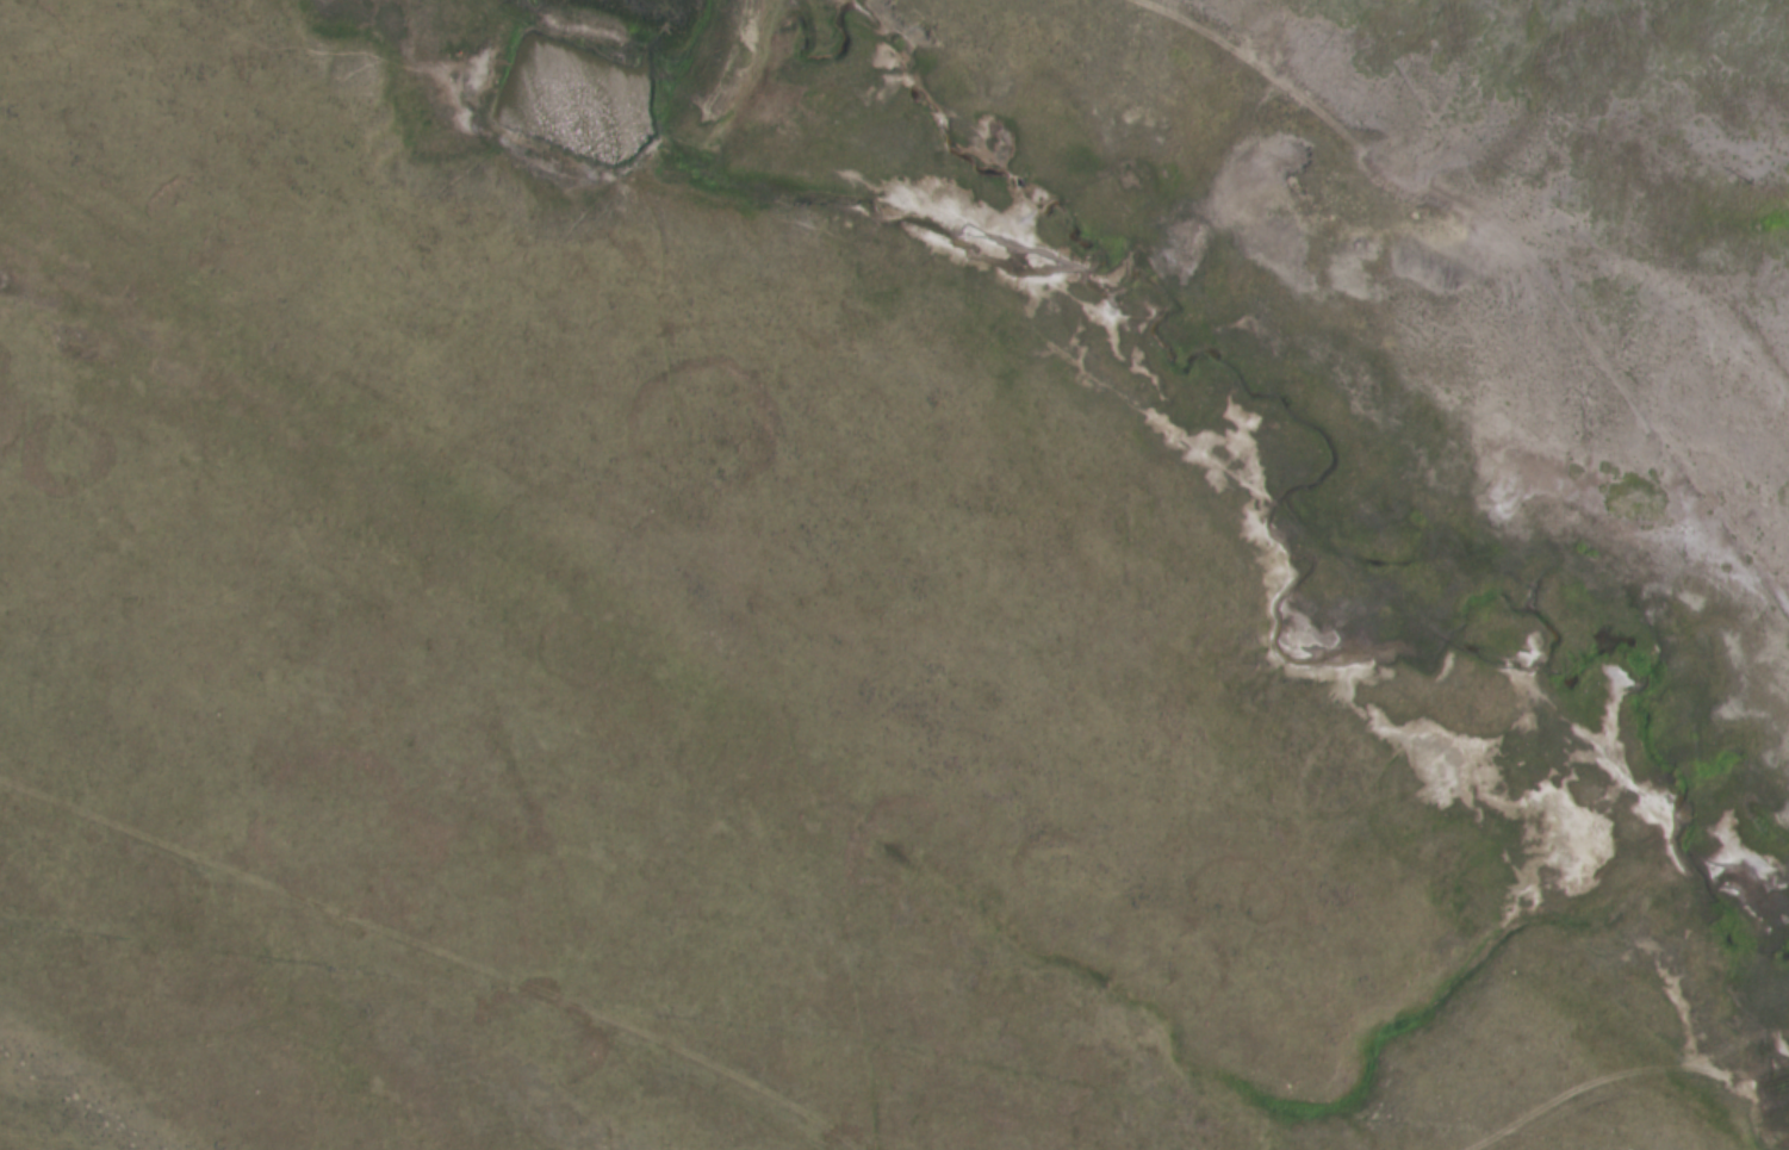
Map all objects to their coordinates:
power tower: (1762, 189)

